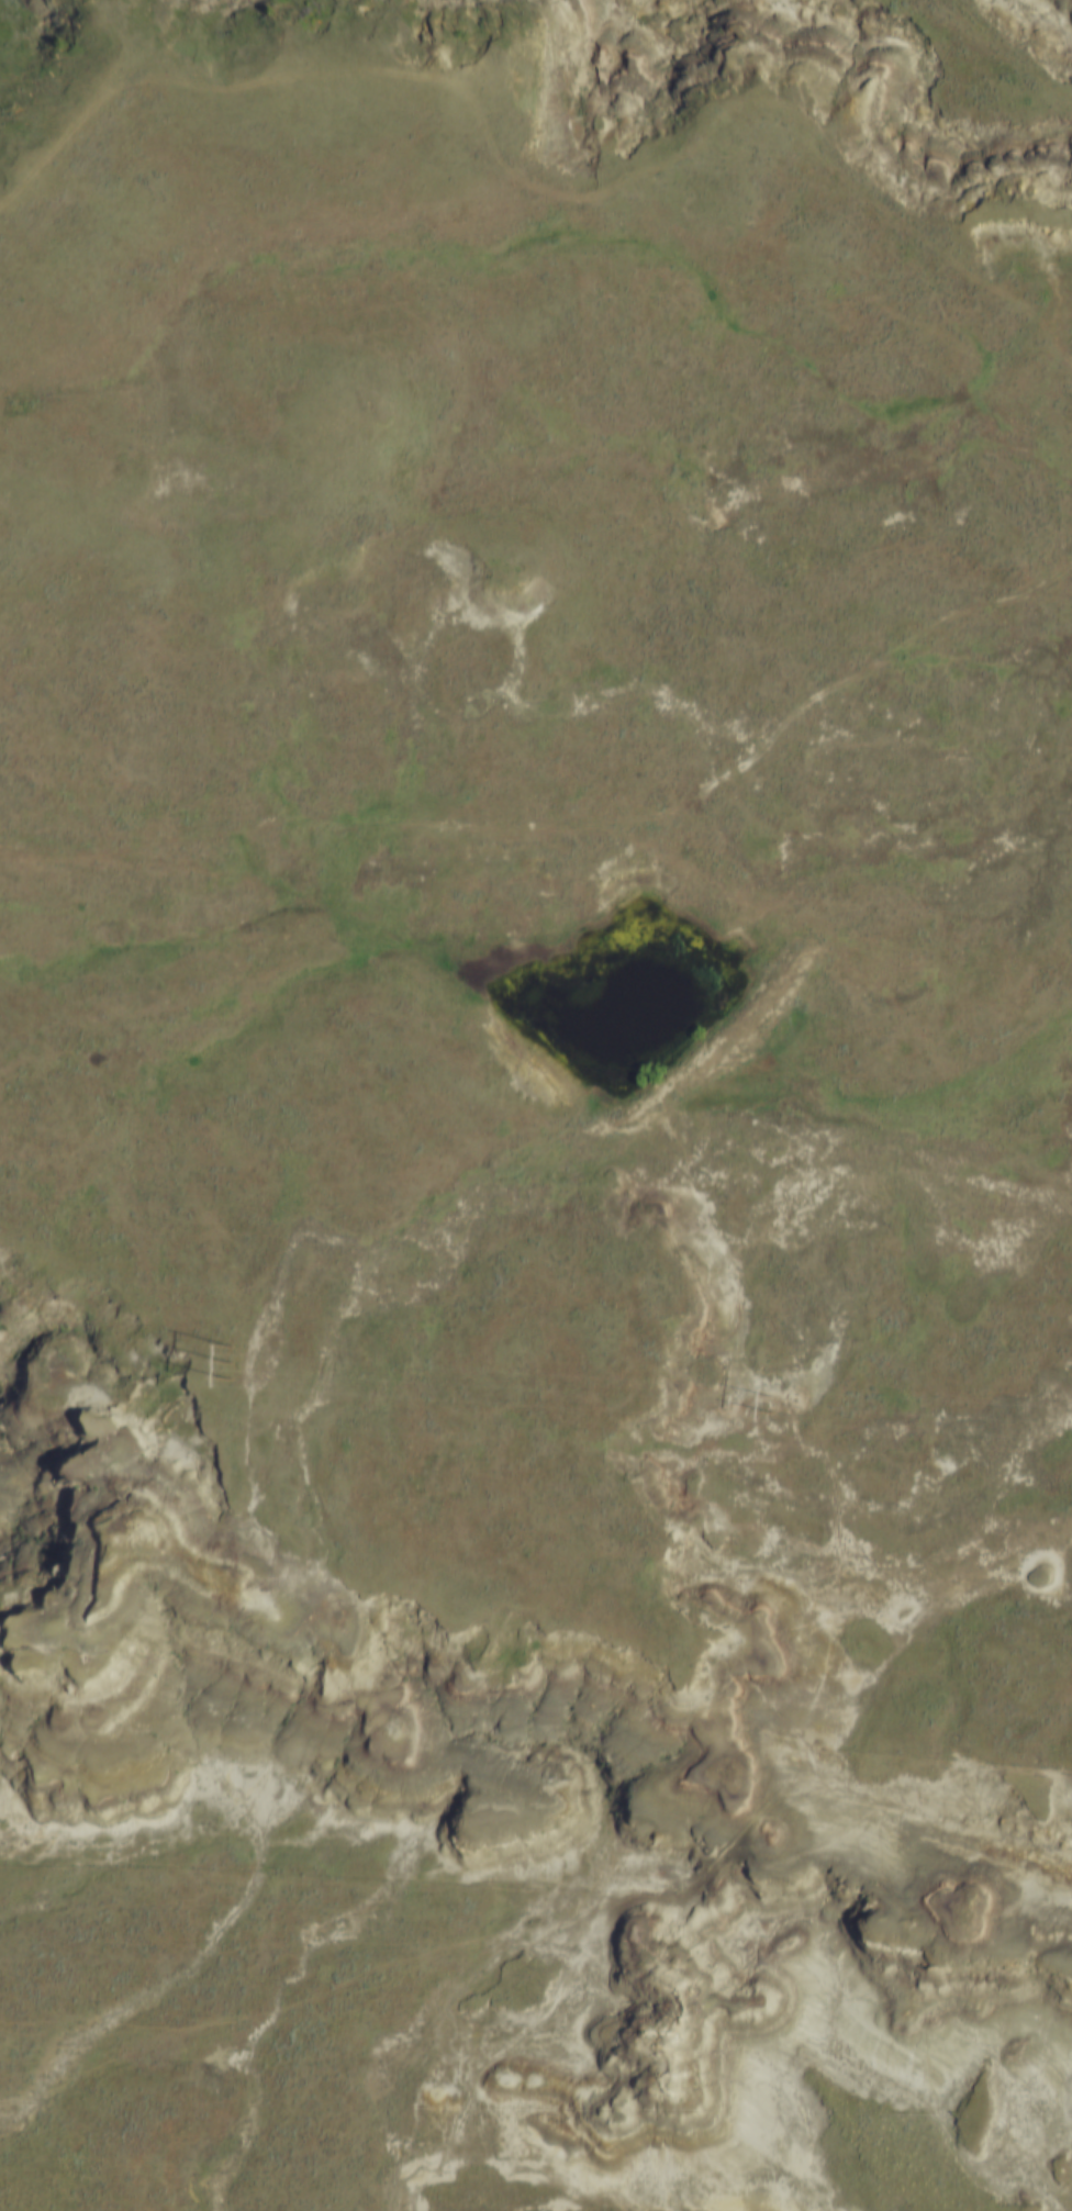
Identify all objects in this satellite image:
road: (571, 824)
power tower: (235, 1362)
power tower: (771, 1404)

